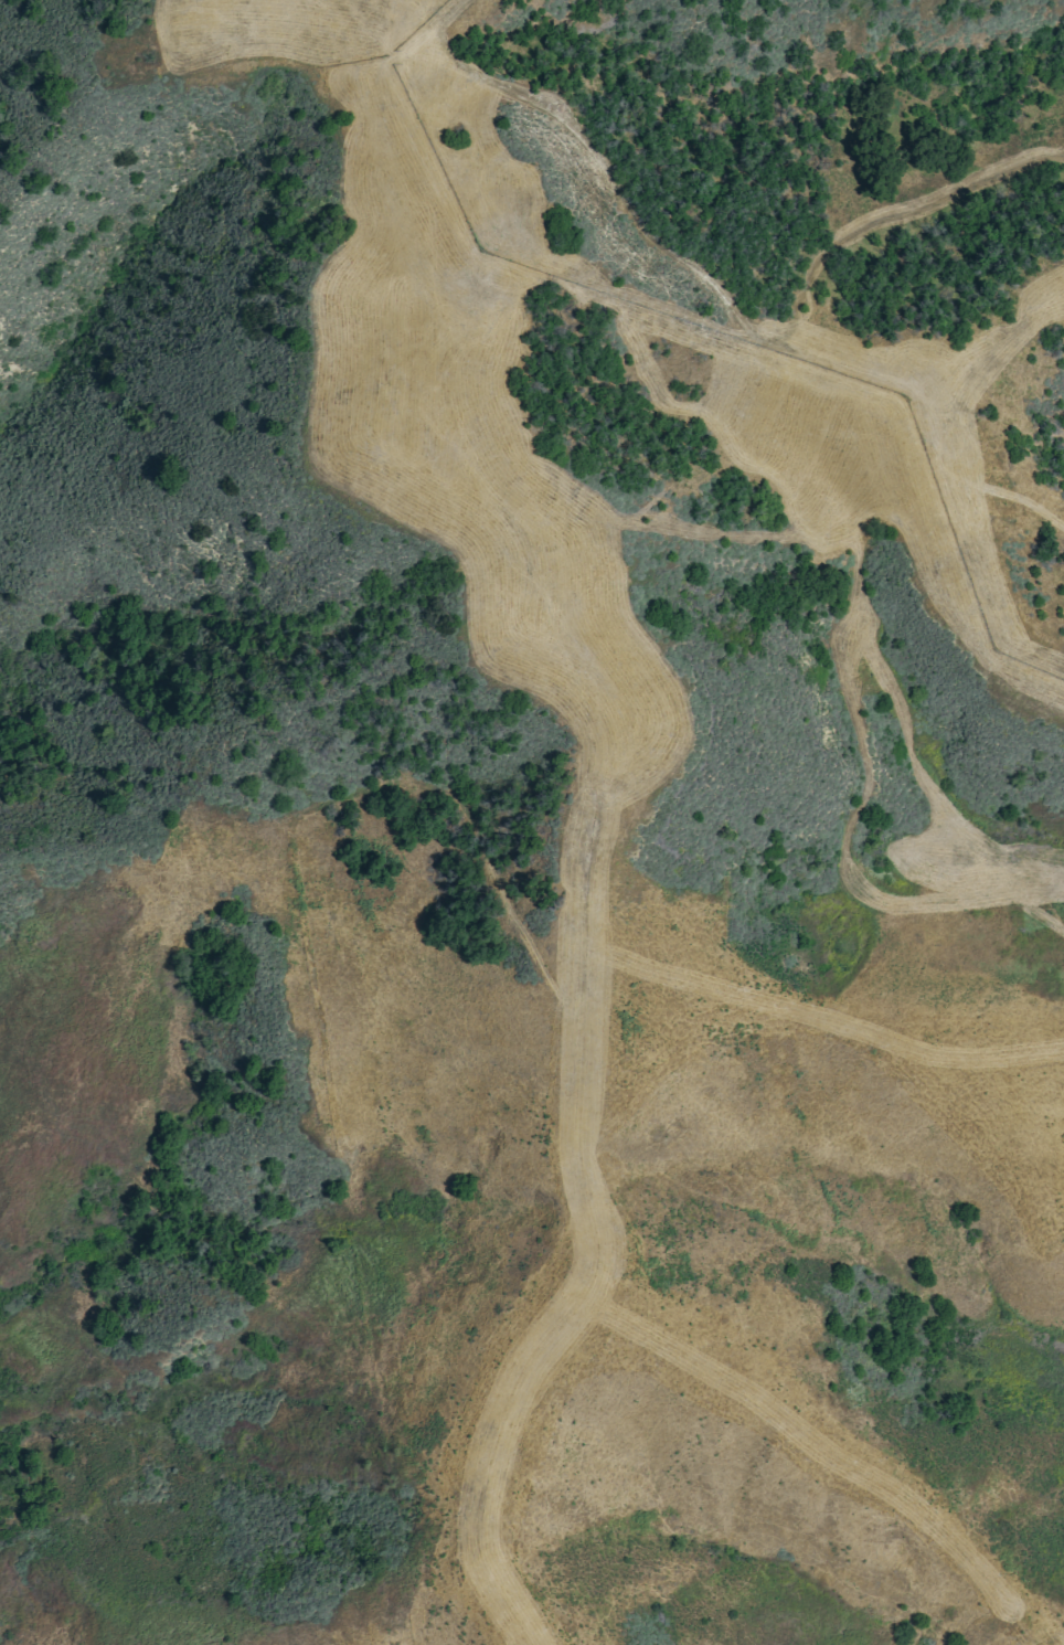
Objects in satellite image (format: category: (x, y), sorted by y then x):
road: (457, 12)
road: (768, 349)
road: (596, 825)

